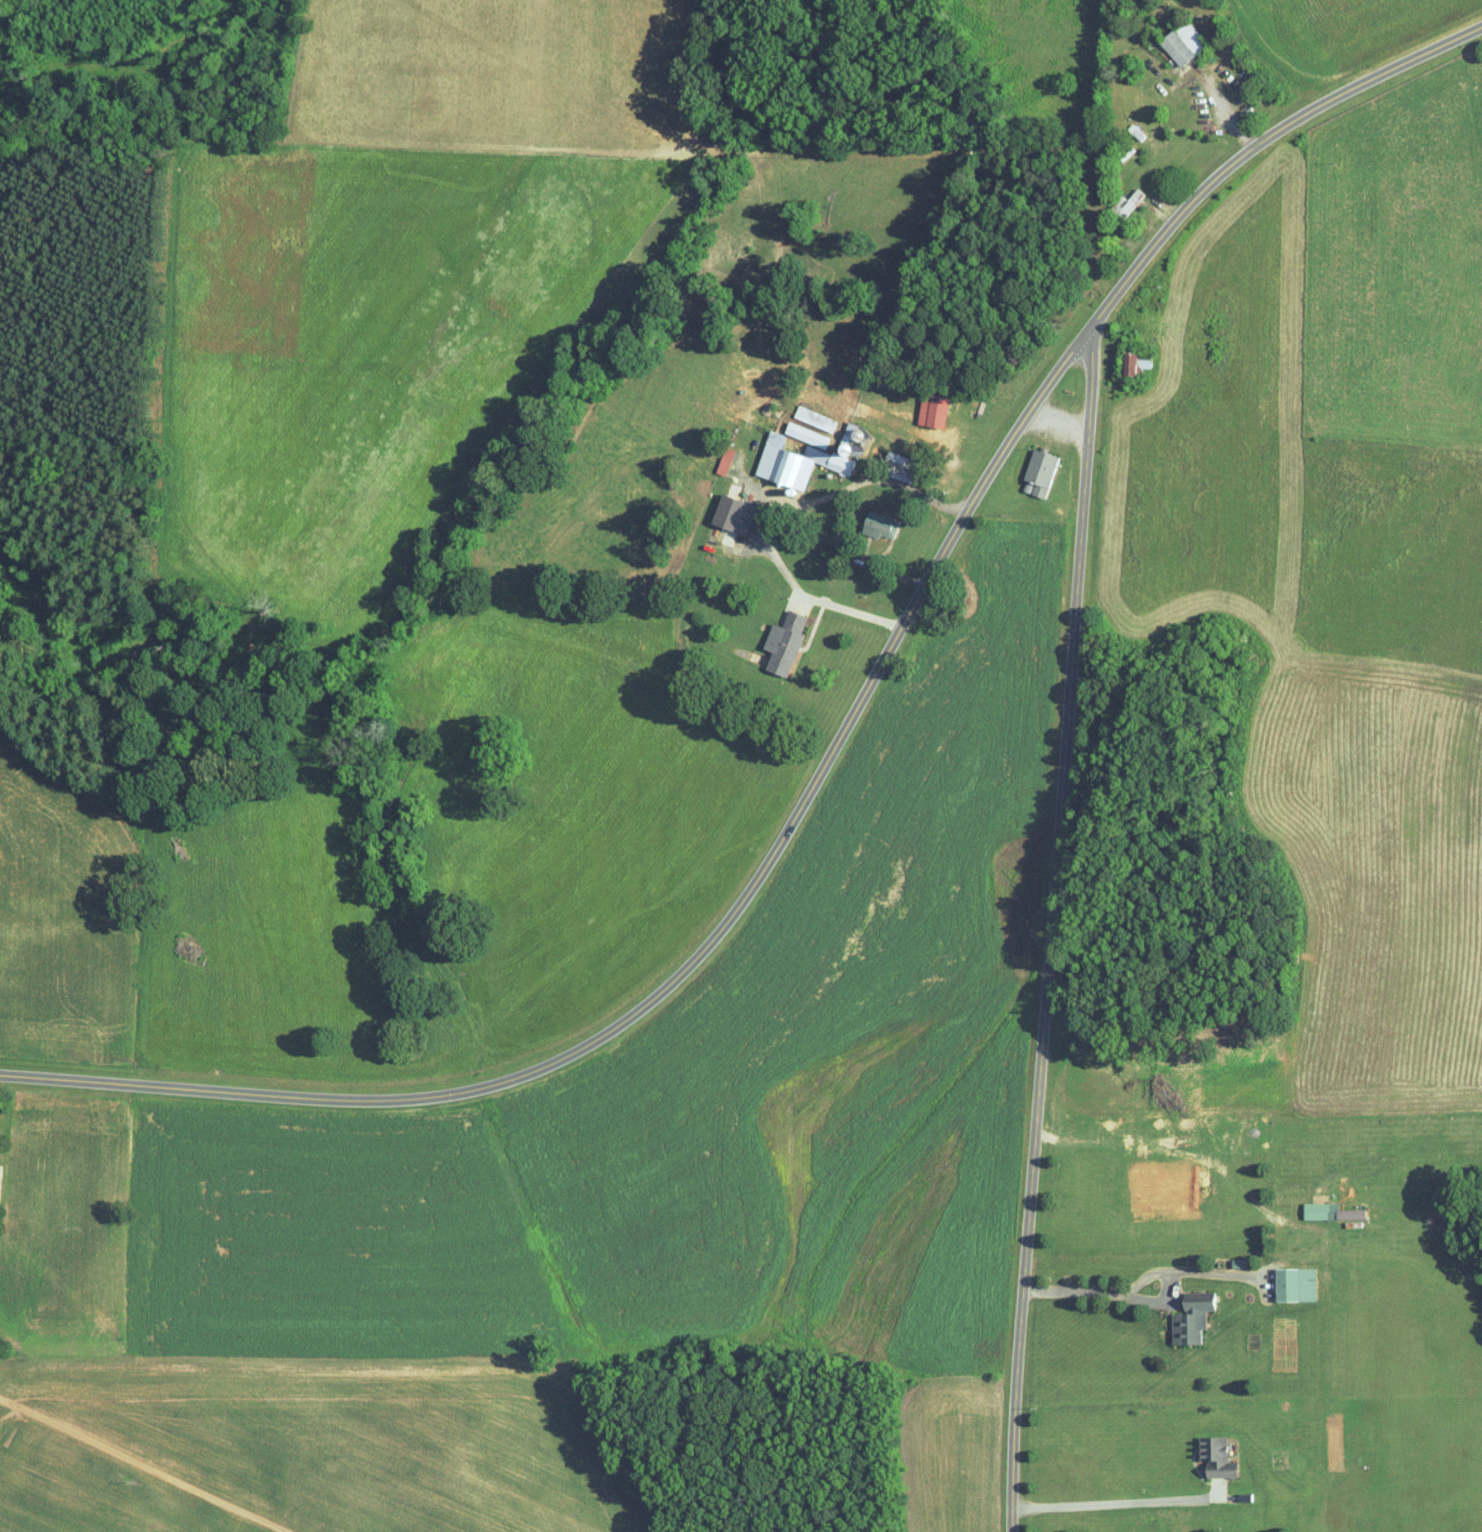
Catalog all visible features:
building: (1177, 48)
building: (1130, 364)
building: (814, 419)
building: (806, 435)
building: (804, 459)
building: (724, 461)
building: (902, 468)
building: (1040, 472)
road: (844, 504)
building: (734, 515)
building: (880, 525)
road: (847, 610)
building: (784, 643)
road: (833, 743)
road: (1050, 926)
building: (1316, 1210)
building: (1351, 1214)
road: (1138, 1280)
building: (1296, 1283)
building: (1192, 1319)
building: (1217, 1457)
road: (1115, 1503)

